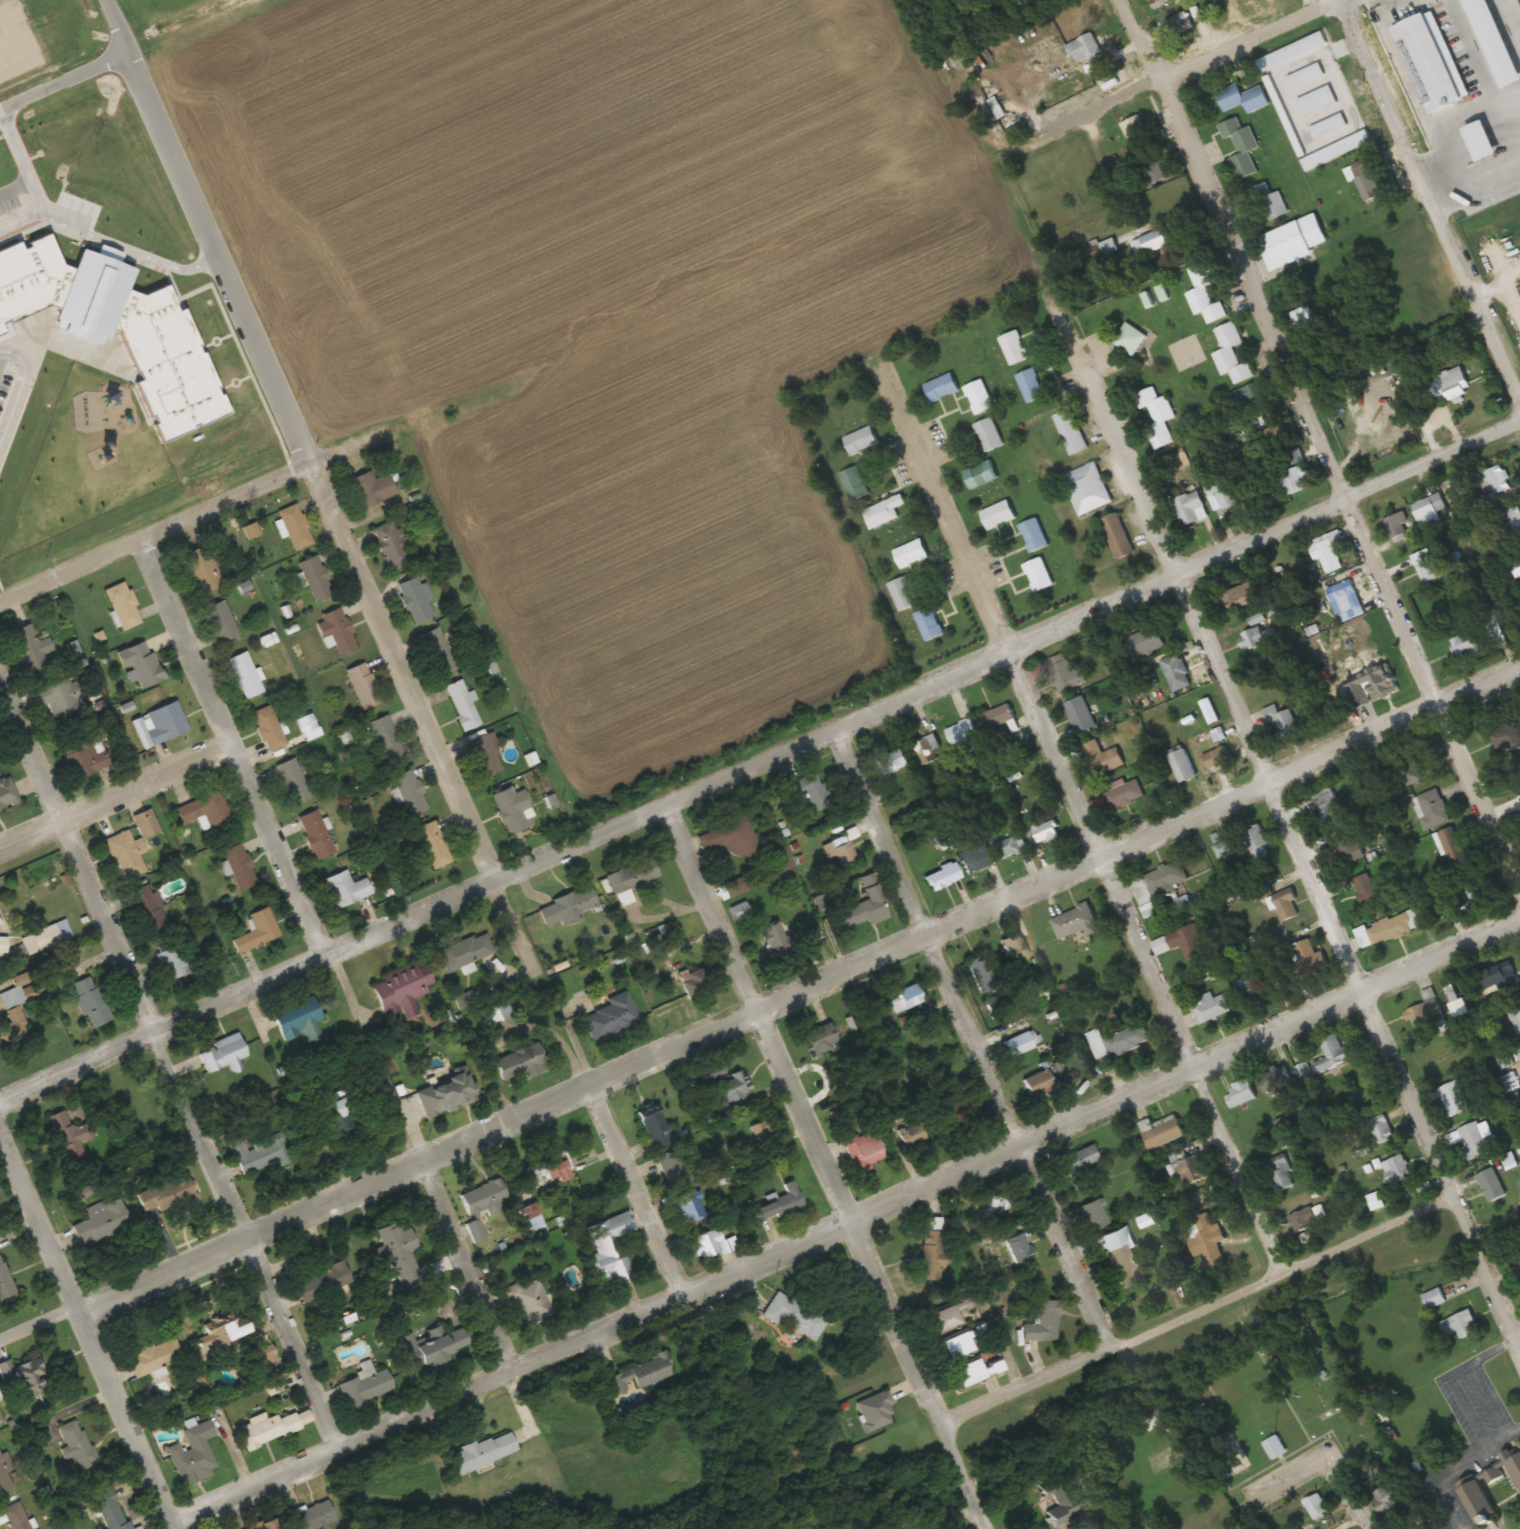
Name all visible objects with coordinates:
road: (1307, 4)
building: (1509, 14)
building: (1384, 20)
road: (1247, 38)
building: (1088, 54)
building: (1515, 60)
building: (1438, 66)
road: (64, 82)
building: (1468, 88)
building: (1244, 98)
building: (1134, 128)
building: (1241, 148)
building: (1154, 170)
building: (1365, 180)
road: (14, 190)
road: (1435, 191)
road: (1482, 193)
parking lot: (7, 202)
building: (1269, 202)
road: (19, 218)
road: (205, 233)
road: (75, 235)
building: (1295, 241)
building: (1153, 242)
building: (1089, 256)
building: (1204, 295)
building: (1305, 317)
building: (116, 335)
building: (1129, 339)
building: (1012, 348)
building: (1434, 348)
building: (1230, 354)
road: (19, 380)
parking lot: (4, 384)
building: (1029, 386)
building: (940, 388)
building: (1246, 395)
building: (978, 398)
building: (1156, 417)
building: (1069, 432)
building: (1275, 434)
building: (987, 435)
road: (1324, 439)
building: (860, 441)
road: (343, 451)
building: (1292, 459)
building: (979, 475)
building: (1497, 479)
building: (1294, 481)
building: (852, 484)
building: (372, 488)
building: (1086, 489)
building: (1220, 494)
building: (1430, 506)
building: (1190, 509)
building: (882, 512)
building: (997, 515)
building: (1513, 522)
building: (1399, 526)
building: (296, 527)
road: (153, 533)
building: (1032, 536)
building: (1116, 536)
building: (393, 546)
building: (910, 554)
building: (1327, 556)
building: (1516, 568)
building: (1428, 569)
building: (203, 570)
building: (1037, 575)
building: (316, 578)
building: (902, 594)
building: (1239, 596)
building: (416, 600)
building: (1348, 600)
building: (124, 605)
building: (222, 621)
building: (928, 624)
building: (337, 630)
building: (1255, 639)
building: (1146, 640)
building: (1466, 640)
building: (32, 648)
building: (438, 652)
building: (142, 663)
road: (400, 668)
building: (1175, 672)
building: (245, 675)
building: (1065, 675)
building: (364, 686)
building: (1372, 687)
building: (61, 698)
building: (462, 705)
building: (1079, 715)
building: (998, 716)
building: (1281, 723)
building: (160, 725)
building: (309, 726)
building: (269, 728)
building: (963, 737)
building: (386, 739)
building: (926, 750)
road: (759, 753)
building: (89, 755)
building: (485, 755)
building: (1103, 758)
building: (1215, 759)
building: (890, 763)
building: (1182, 766)
building: (1409, 772)
building: (293, 781)
building: (808, 791)
building: (411, 793)
building: (1123, 794)
building: (7, 795)
road: (121, 802)
building: (1328, 806)
building: (512, 808)
building: (205, 810)
building: (1431, 810)
building: (1518, 816)
road: (1086, 822)
building: (147, 824)
building: (1042, 833)
building: (316, 835)
building: (730, 838)
building: (1256, 843)
building: (434, 844)
building: (1224, 844)
building: (1010, 845)
road: (1300, 845)
building: (1346, 848)
building: (1452, 849)
building: (839, 852)
building: (125, 855)
building: (782, 860)
building: (977, 860)
building: (240, 866)
building: (942, 876)
building: (630, 877)
building: (1156, 885)
building: (349, 888)
building: (731, 888)
building: (1366, 889)
building: (1468, 895)
building: (568, 906)
building: (1286, 908)
building: (148, 909)
building: (739, 910)
building: (861, 912)
building: (1075, 922)
building: (0, 923)
building: (1395, 927)
building: (258, 931)
building: (46, 937)
building: (773, 939)
building: (1185, 941)
building: (3, 945)
road: (328, 952)
building: (466, 952)
building: (1016, 952)
building: (1302, 961)
building: (173, 962)
building: (982, 973)
building: (1496, 978)
building: (694, 982)
building: (404, 986)
building: (1250, 991)
building: (907, 999)
building: (90, 1002)
building: (12, 1006)
road: (760, 1006)
building: (1212, 1007)
building: (1424, 1010)
building: (495, 1013)
building: (610, 1017)
building: (299, 1020)
building: (1515, 1021)
road: (973, 1037)
building: (821, 1039)
building: (1115, 1042)
building: (1018, 1044)
building: (222, 1054)
building: (1331, 1054)
road: (168, 1062)
building: (521, 1064)
building: (1039, 1081)
building: (1275, 1081)
building: (734, 1087)
building: (1239, 1093)
building: (447, 1095)
building: (1453, 1099)
building: (960, 1108)
building: (336, 1111)
building: (1381, 1129)
building: (656, 1130)
building: (70, 1131)
building: (1164, 1133)
building: (914, 1134)
building: (763, 1139)
building: (1469, 1140)
building: (866, 1150)
building: (258, 1154)
building: (1078, 1159)
road: (827, 1162)
road: (609, 1167)
building: (557, 1168)
building: (676, 1168)
building: (1395, 1169)
building: (1189, 1171)
building: (1282, 1173)
building: (1490, 1184)
building: (168, 1194)
building: (486, 1197)
building: (994, 1199)
building: (780, 1204)
building: (691, 1207)
building: (1096, 1214)
building: (1303, 1219)
building: (101, 1220)
building: (535, 1221)
road: (843, 1222)
building: (1208, 1243)
building: (710, 1244)
building: (398, 1248)
building: (933, 1248)
building: (1021, 1248)
building: (613, 1265)
building: (1126, 1267)
building: (1513, 1273)
building: (323, 1282)
building: (5, 1285)
building: (528, 1300)
road: (1203, 1314)
building: (795, 1316)
building: (952, 1316)
building: (1044, 1323)
building: (1459, 1324)
road: (85, 1334)
building: (229, 1337)
building: (960, 1346)
building: (435, 1347)
building: (155, 1356)
building: (971, 1374)
building: (638, 1375)
building: (30, 1379)
building: (366, 1388)
building: (1157, 1414)
building: (0, 1422)
building: (274, 1427)
building: (77, 1444)
building: (1519, 1444)
building: (1273, 1448)
building: (195, 1452)
building: (483, 1452)
building: (1516, 1468)
building: (5, 1472)
road: (1308, 1494)
road: (1374, 1501)
building: (1480, 1503)
building: (1064, 1504)
building: (1316, 1506)
building: (112, 1509)
building: (17, 1516)
building: (314, 1517)
road: (969, 1521)
building: (1397, 1522)
building: (1430, 1527)

